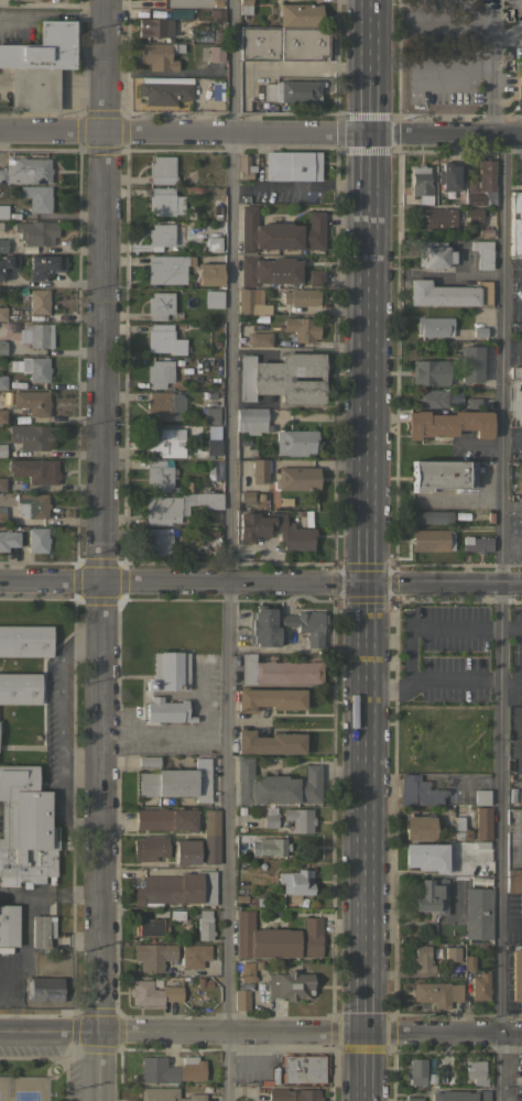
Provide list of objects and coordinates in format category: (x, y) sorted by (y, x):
building: (35, 0)
building: (59, 0)
building: (15, 1)
road: (50, 4)
building: (244, 7)
road: (48, 13)
building: (217, 14)
building: (300, 14)
road: (448, 21)
building: (153, 26)
road: (505, 42)
building: (284, 43)
building: (216, 53)
building: (159, 55)
building: (39, 65)
road: (490, 67)
road: (453, 68)
building: (217, 89)
building: (165, 90)
building: (292, 91)
building: (520, 92)
road: (261, 133)
building: (293, 165)
building: (246, 167)
building: (162, 170)
building: (25, 171)
building: (449, 176)
building: (421, 185)
building: (482, 185)
building: (37, 197)
building: (164, 201)
building: (3, 211)
building: (475, 216)
building: (436, 217)
building: (515, 226)
building: (36, 232)
building: (280, 232)
building: (486, 233)
building: (166, 238)
building: (211, 240)
building: (3, 246)
building: (482, 253)
building: (433, 254)
building: (8, 264)
building: (45, 265)
building: (167, 269)
building: (269, 271)
building: (209, 273)
building: (316, 277)
parking lot: (516, 291)
building: (448, 293)
building: (301, 296)
building: (214, 298)
building: (39, 301)
building: (252, 302)
building: (160, 305)
building: (3, 314)
building: (435, 326)
building: (302, 328)
building: (477, 331)
building: (37, 335)
building: (164, 339)
building: (259, 339)
building: (2, 348)
building: (471, 363)
building: (32, 368)
building: (429, 372)
building: (515, 372)
building: (160, 373)
building: (283, 378)
building: (3, 382)
building: (431, 399)
building: (32, 402)
building: (474, 403)
building: (163, 405)
building: (211, 415)
building: (2, 416)
building: (251, 419)
building: (448, 423)
road: (519, 434)
building: (30, 436)
building: (163, 442)
building: (295, 442)
building: (213, 446)
building: (2, 450)
building: (214, 469)
building: (35, 470)
building: (260, 470)
building: (160, 473)
building: (443, 475)
building: (296, 478)
building: (2, 483)
building: (247, 499)
building: (284, 502)
building: (178, 504)
building: (33, 505)
building: (521, 506)
building: (2, 515)
road: (365, 516)
building: (432, 516)
building: (296, 532)
building: (36, 538)
building: (9, 539)
building: (432, 539)
road: (511, 539)
building: (159, 542)
building: (476, 544)
road: (227, 549)
road: (97, 550)
road: (261, 581)
traffic signals: (363, 582)
road: (500, 618)
building: (307, 624)
road: (510, 625)
building: (262, 626)
road: (426, 628)
building: (25, 641)
building: (280, 671)
building: (170, 672)
road: (510, 677)
road: (431, 680)
building: (19, 687)
building: (270, 699)
building: (166, 710)
road: (59, 729)
building: (269, 742)
building: (149, 761)
building: (178, 782)
building: (276, 785)
building: (418, 792)
building: (481, 797)
building: (269, 816)
building: (165, 819)
building: (300, 819)
building: (482, 822)
building: (420, 827)
building: (25, 828)
building: (458, 829)
building: (210, 836)
building: (481, 844)
building: (269, 846)
building: (149, 848)
building: (186, 852)
building: (426, 857)
road: (151, 868)
building: (513, 879)
building: (476, 880)
building: (295, 881)
building: (175, 889)
building: (431, 895)
building: (239, 898)
building: (292, 901)
building: (478, 913)
building: (175, 915)
building: (8, 923)
building: (204, 925)
building: (150, 927)
building: (41, 930)
building: (275, 938)
building: (452, 953)
building: (193, 955)
building: (152, 956)
building: (422, 959)
building: (468, 963)
building: (257, 964)
building: (246, 971)
building: (516, 972)
building: (198, 982)
building: (289, 984)
building: (480, 986)
building: (42, 988)
building: (152, 993)
building: (436, 993)
building: (241, 999)
road: (182, 1033)
road: (443, 1034)
road: (363, 1067)
building: (303, 1068)
building: (170, 1069)
building: (415, 1070)
building: (475, 1071)
park: (30, 1078)
building: (429, 1079)
building: (443, 1079)
park: (1, 1088)
park: (24, 1089)
building: (167, 1094)
building: (293, 1094)
building: (460, 1095)
building: (261, 1097)
building: (413, 1099)

